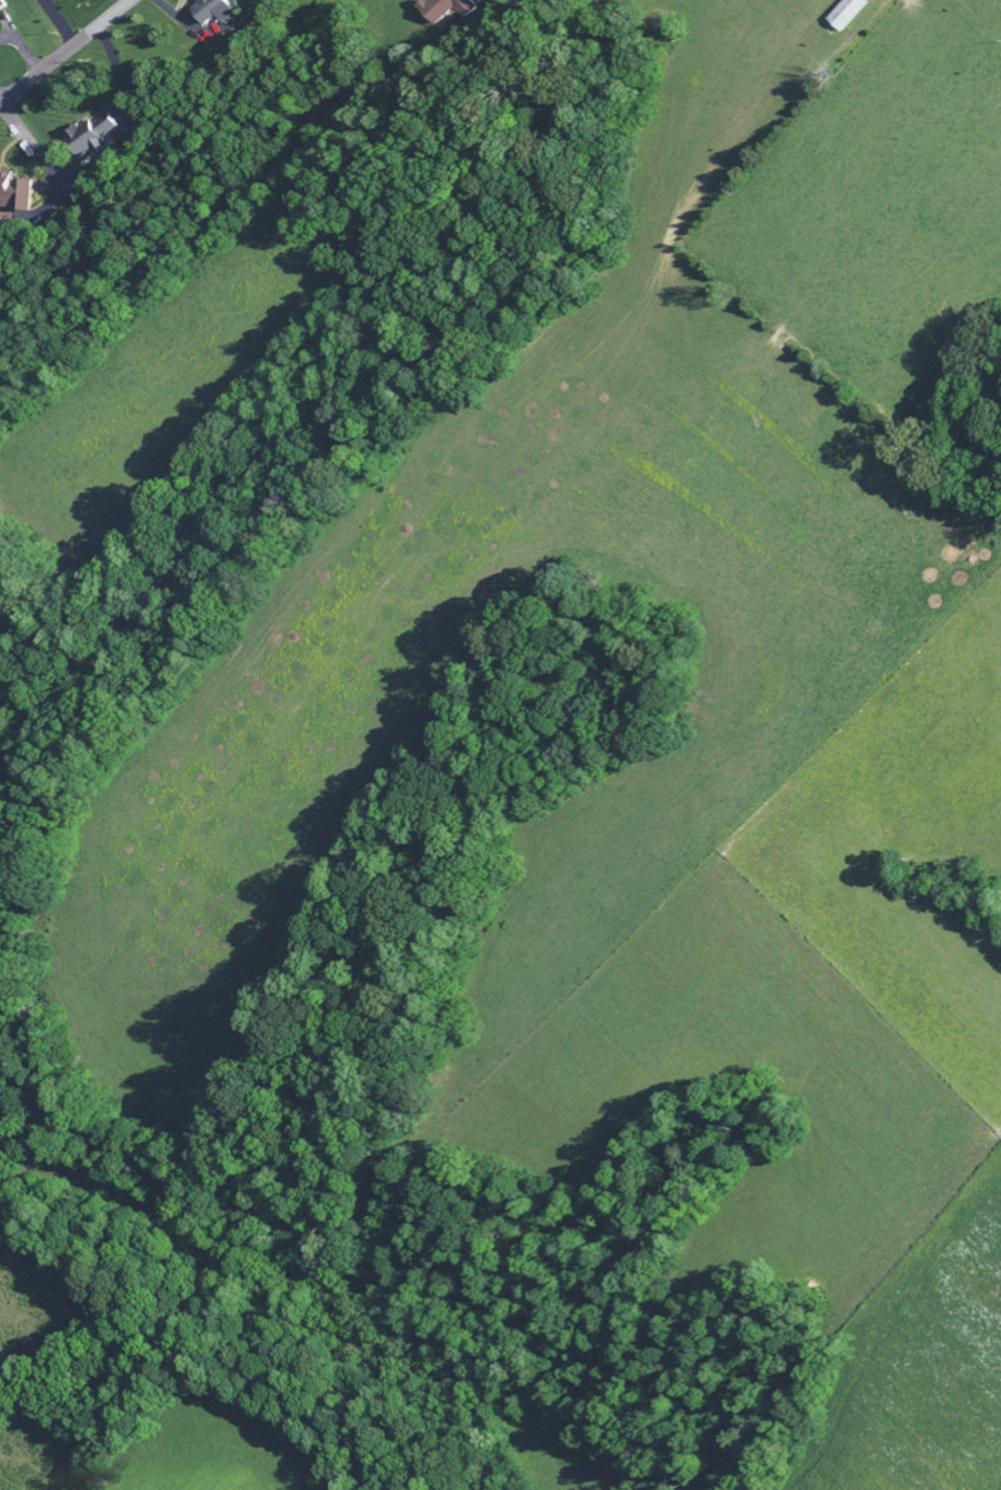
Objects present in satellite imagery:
building: (2, 8)
building: (446, 10)
building: (213, 12)
building: (846, 15)
road: (68, 50)
building: (93, 137)
building: (15, 195)

